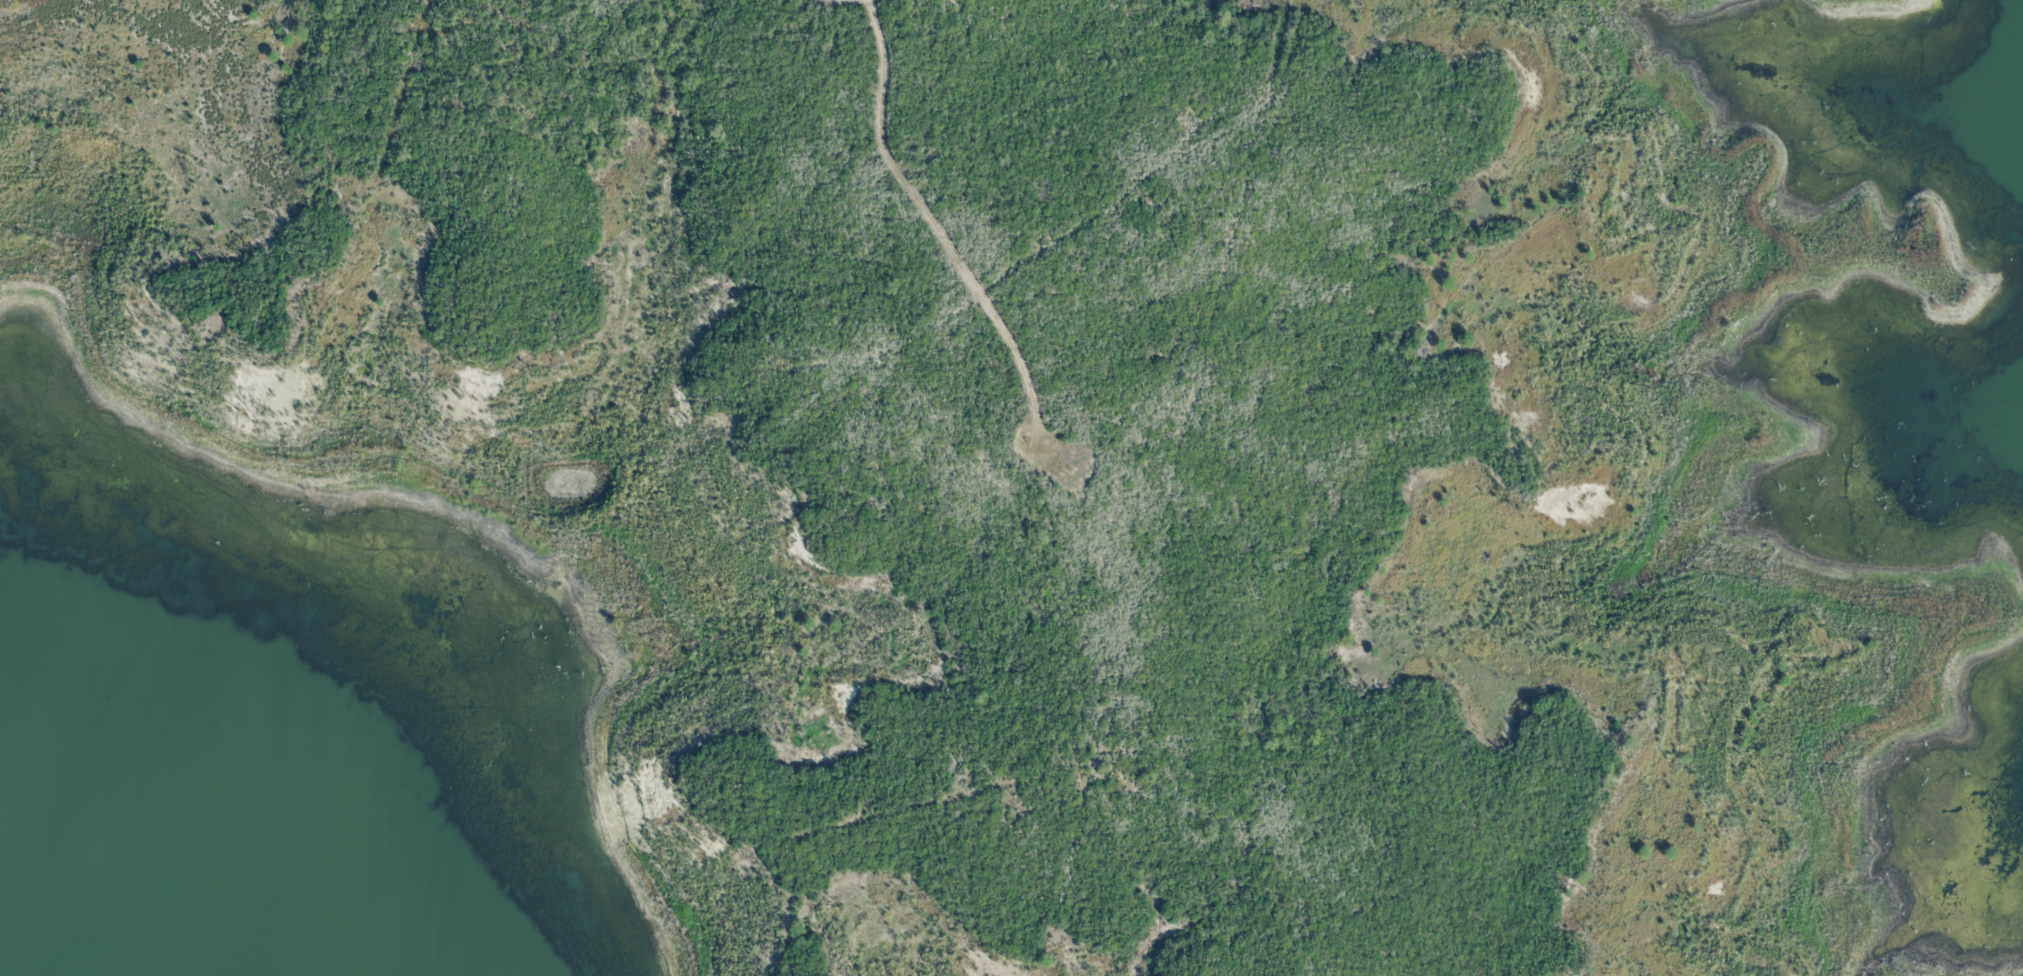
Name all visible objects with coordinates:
road: (921, 212)

